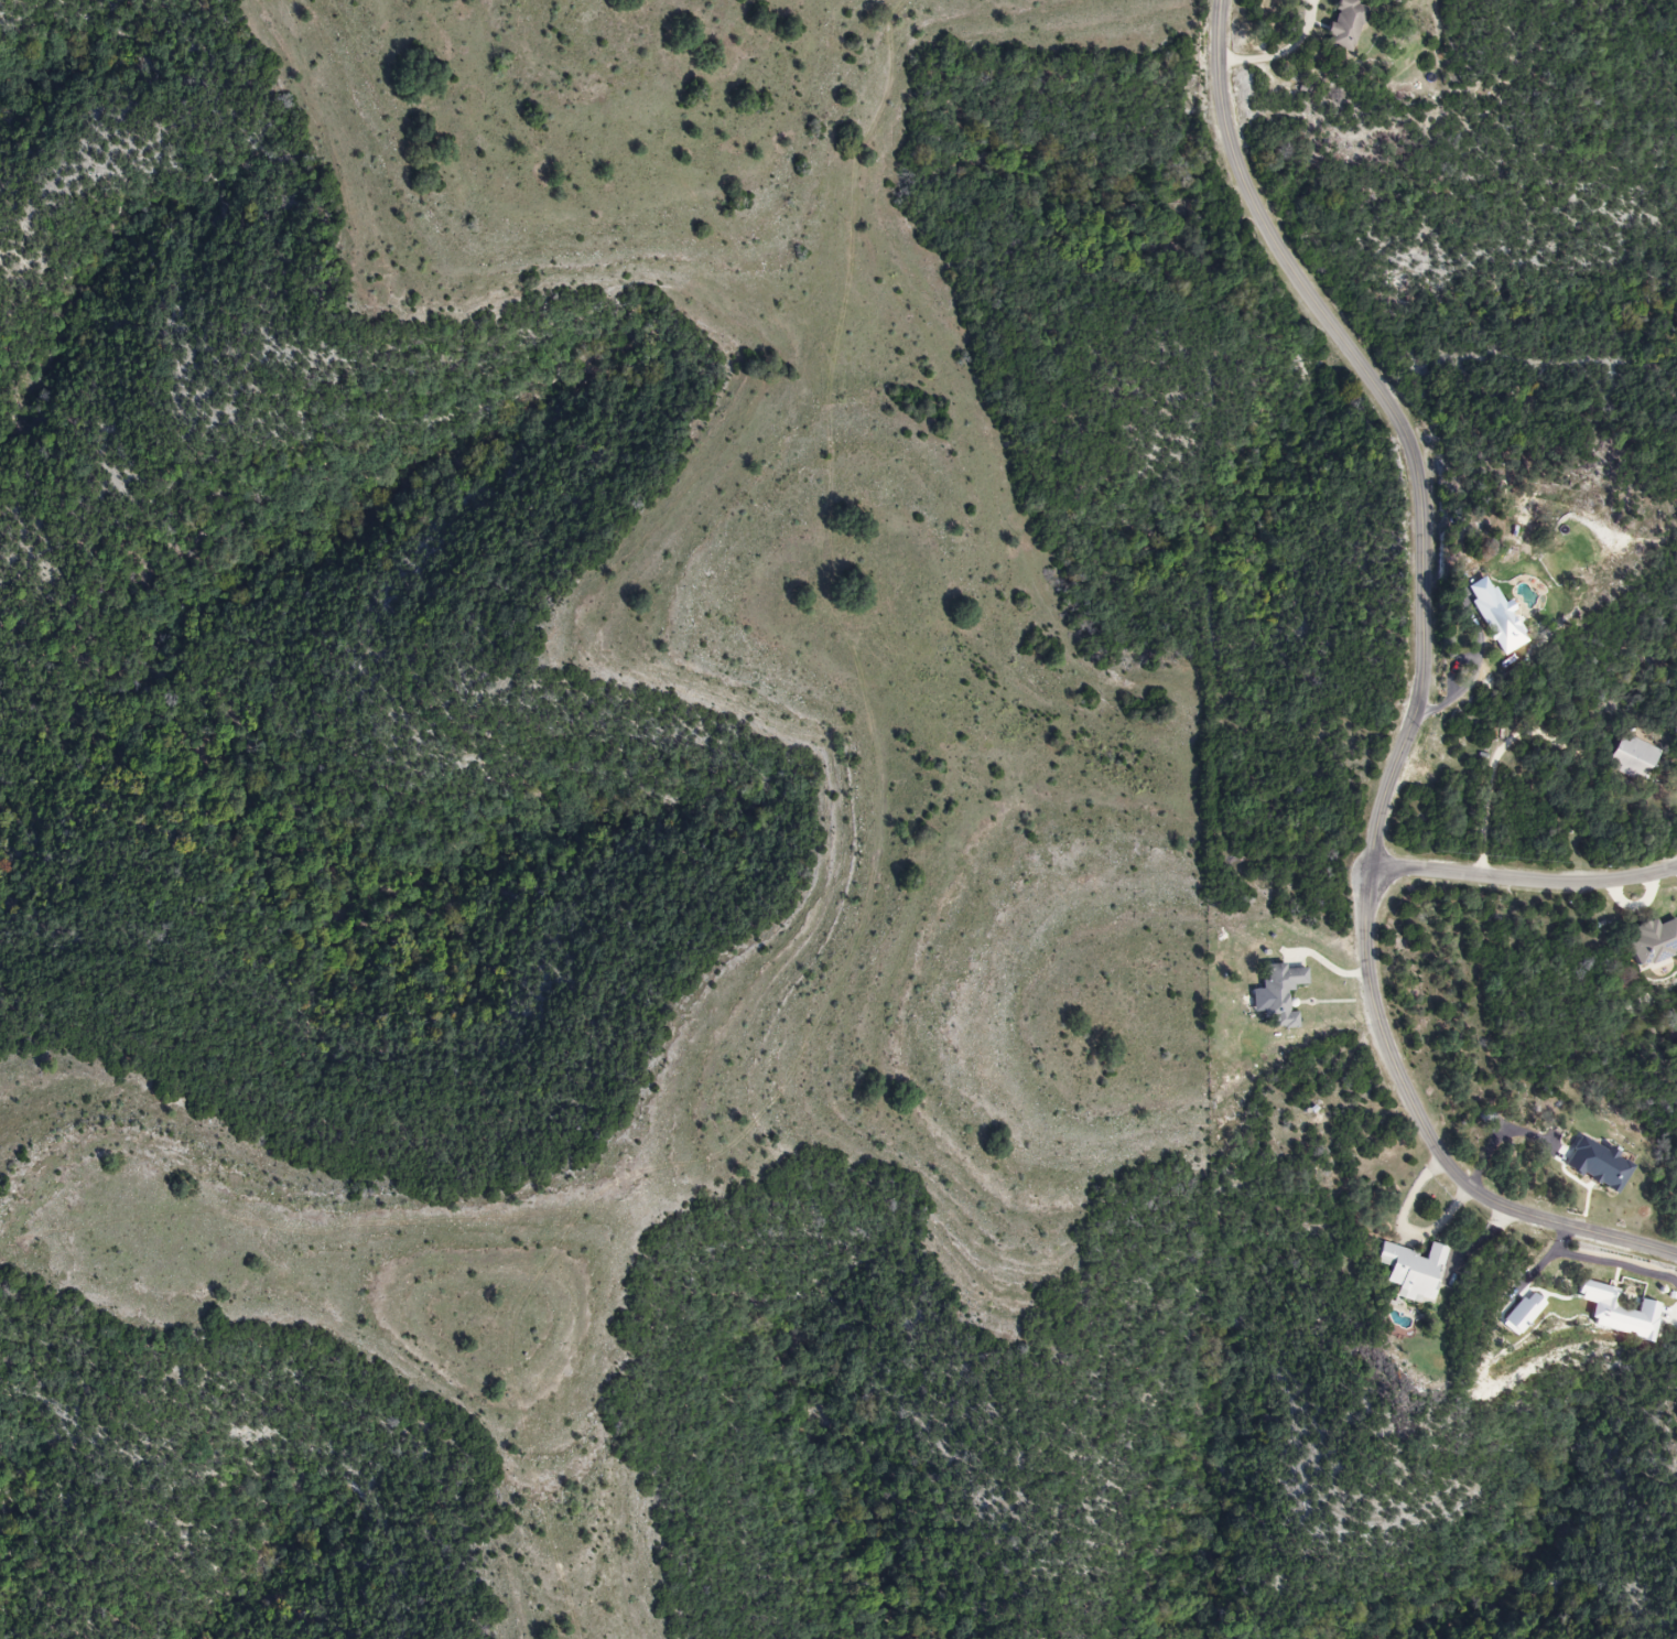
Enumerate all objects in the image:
building: (1342, 24)
road: (1286, 56)
building: (1526, 605)
building: (1496, 622)
road: (1421, 692)
building: (1631, 758)
road: (1495, 769)
road: (1524, 880)
building: (1653, 941)
building: (1278, 994)
building: (1408, 1271)

